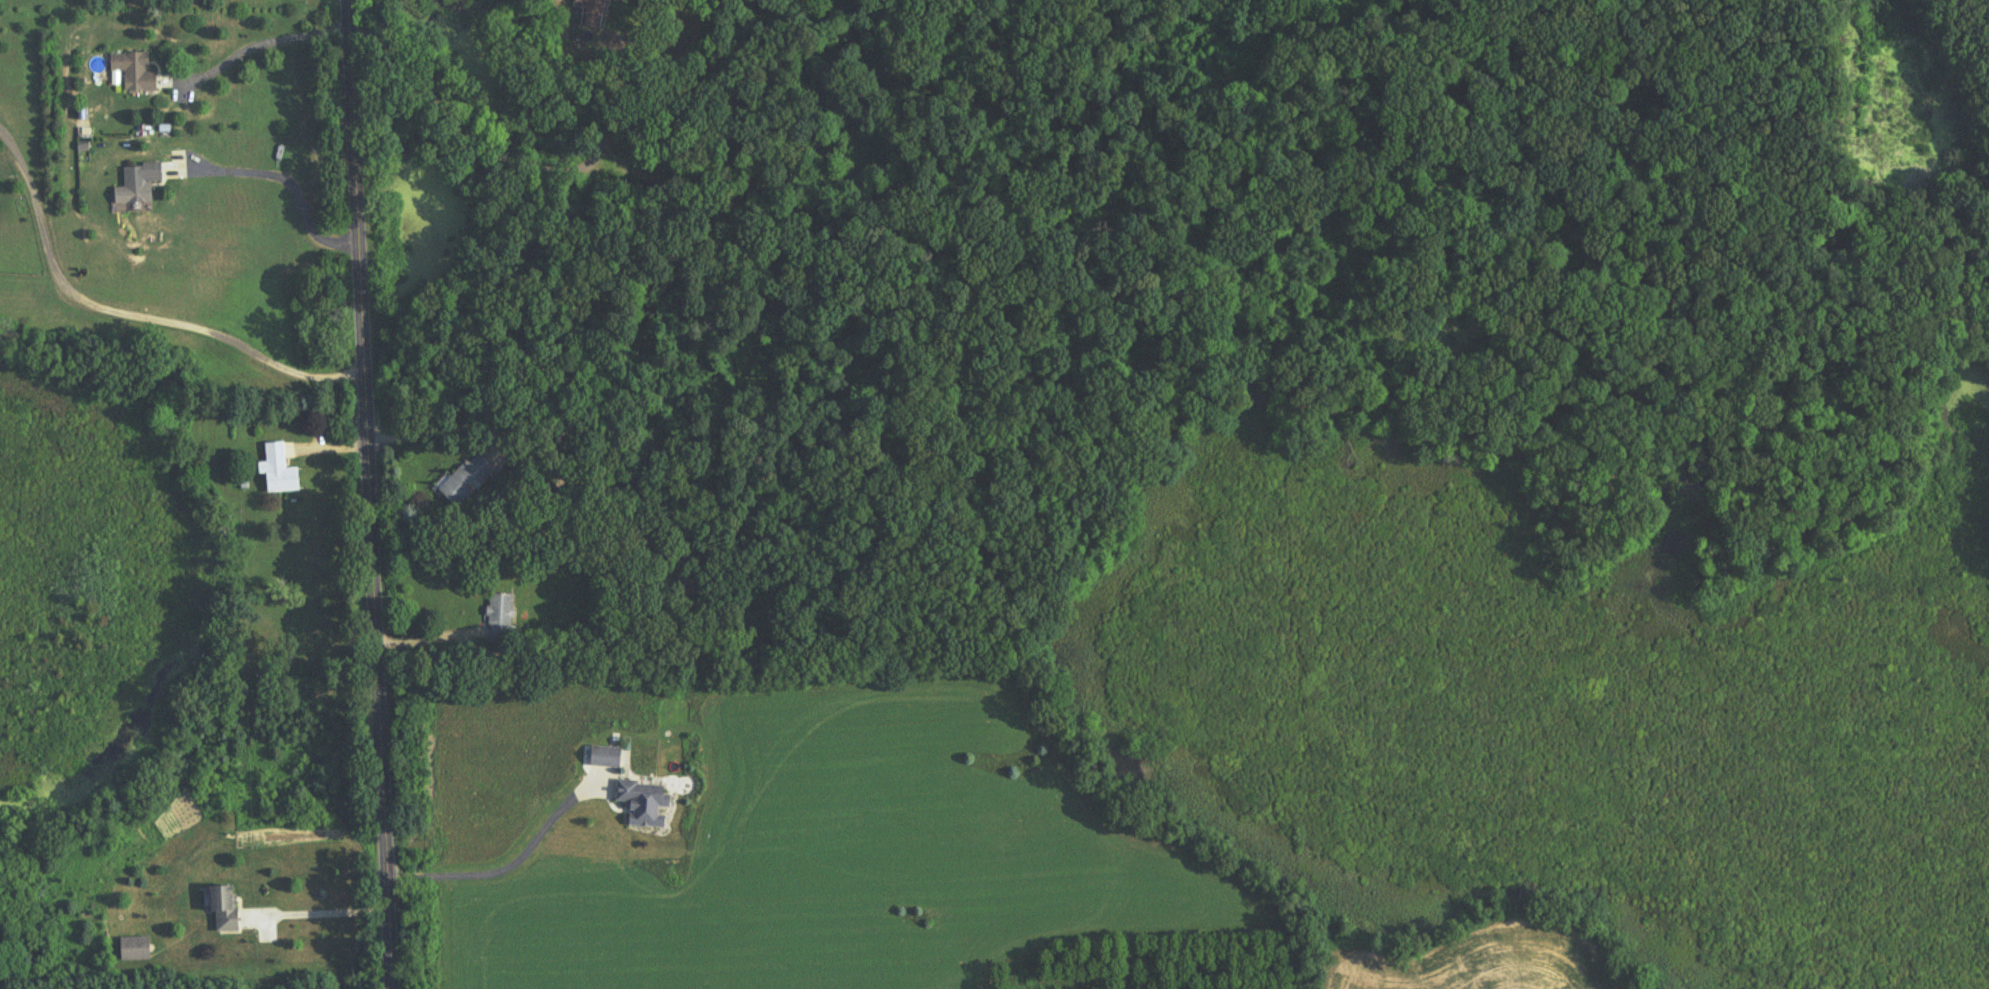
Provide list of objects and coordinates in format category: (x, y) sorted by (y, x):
building: (595, 13)
road: (264, 44)
building: (136, 73)
building: (142, 183)
road: (290, 184)
road: (133, 316)
building: (281, 473)
building: (469, 482)
road: (376, 494)
building: (571, 573)
building: (503, 620)
building: (607, 757)
building: (646, 803)
road: (511, 859)
building: (227, 910)
building: (137, 950)

